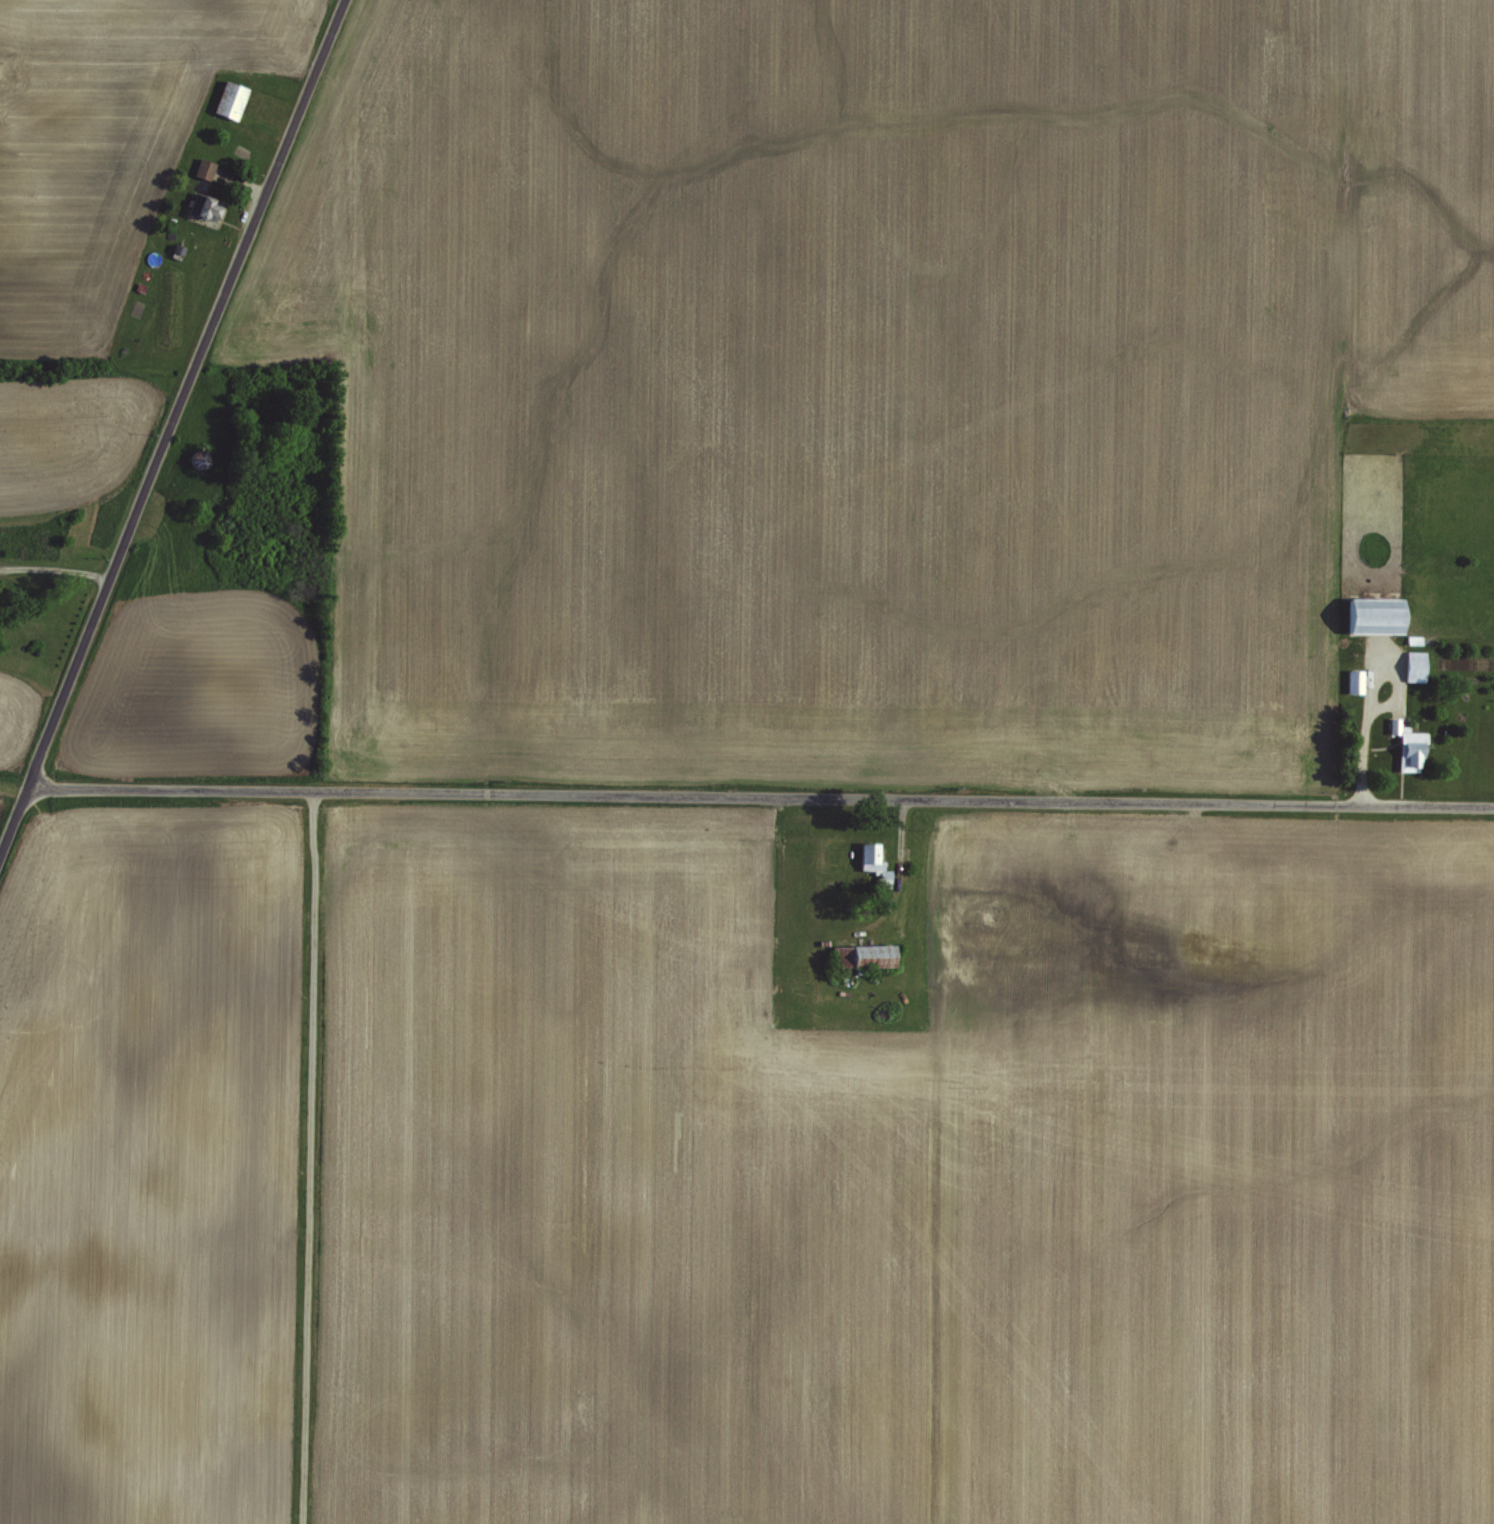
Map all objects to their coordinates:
building: (225, 99)
building: (199, 168)
road: (169, 427)
road: (54, 570)
building: (1369, 613)
building: (1410, 664)
building: (1351, 679)
road: (1365, 729)
building: (1406, 748)
road: (762, 799)
road: (903, 854)
building: (866, 855)
building: (867, 953)

